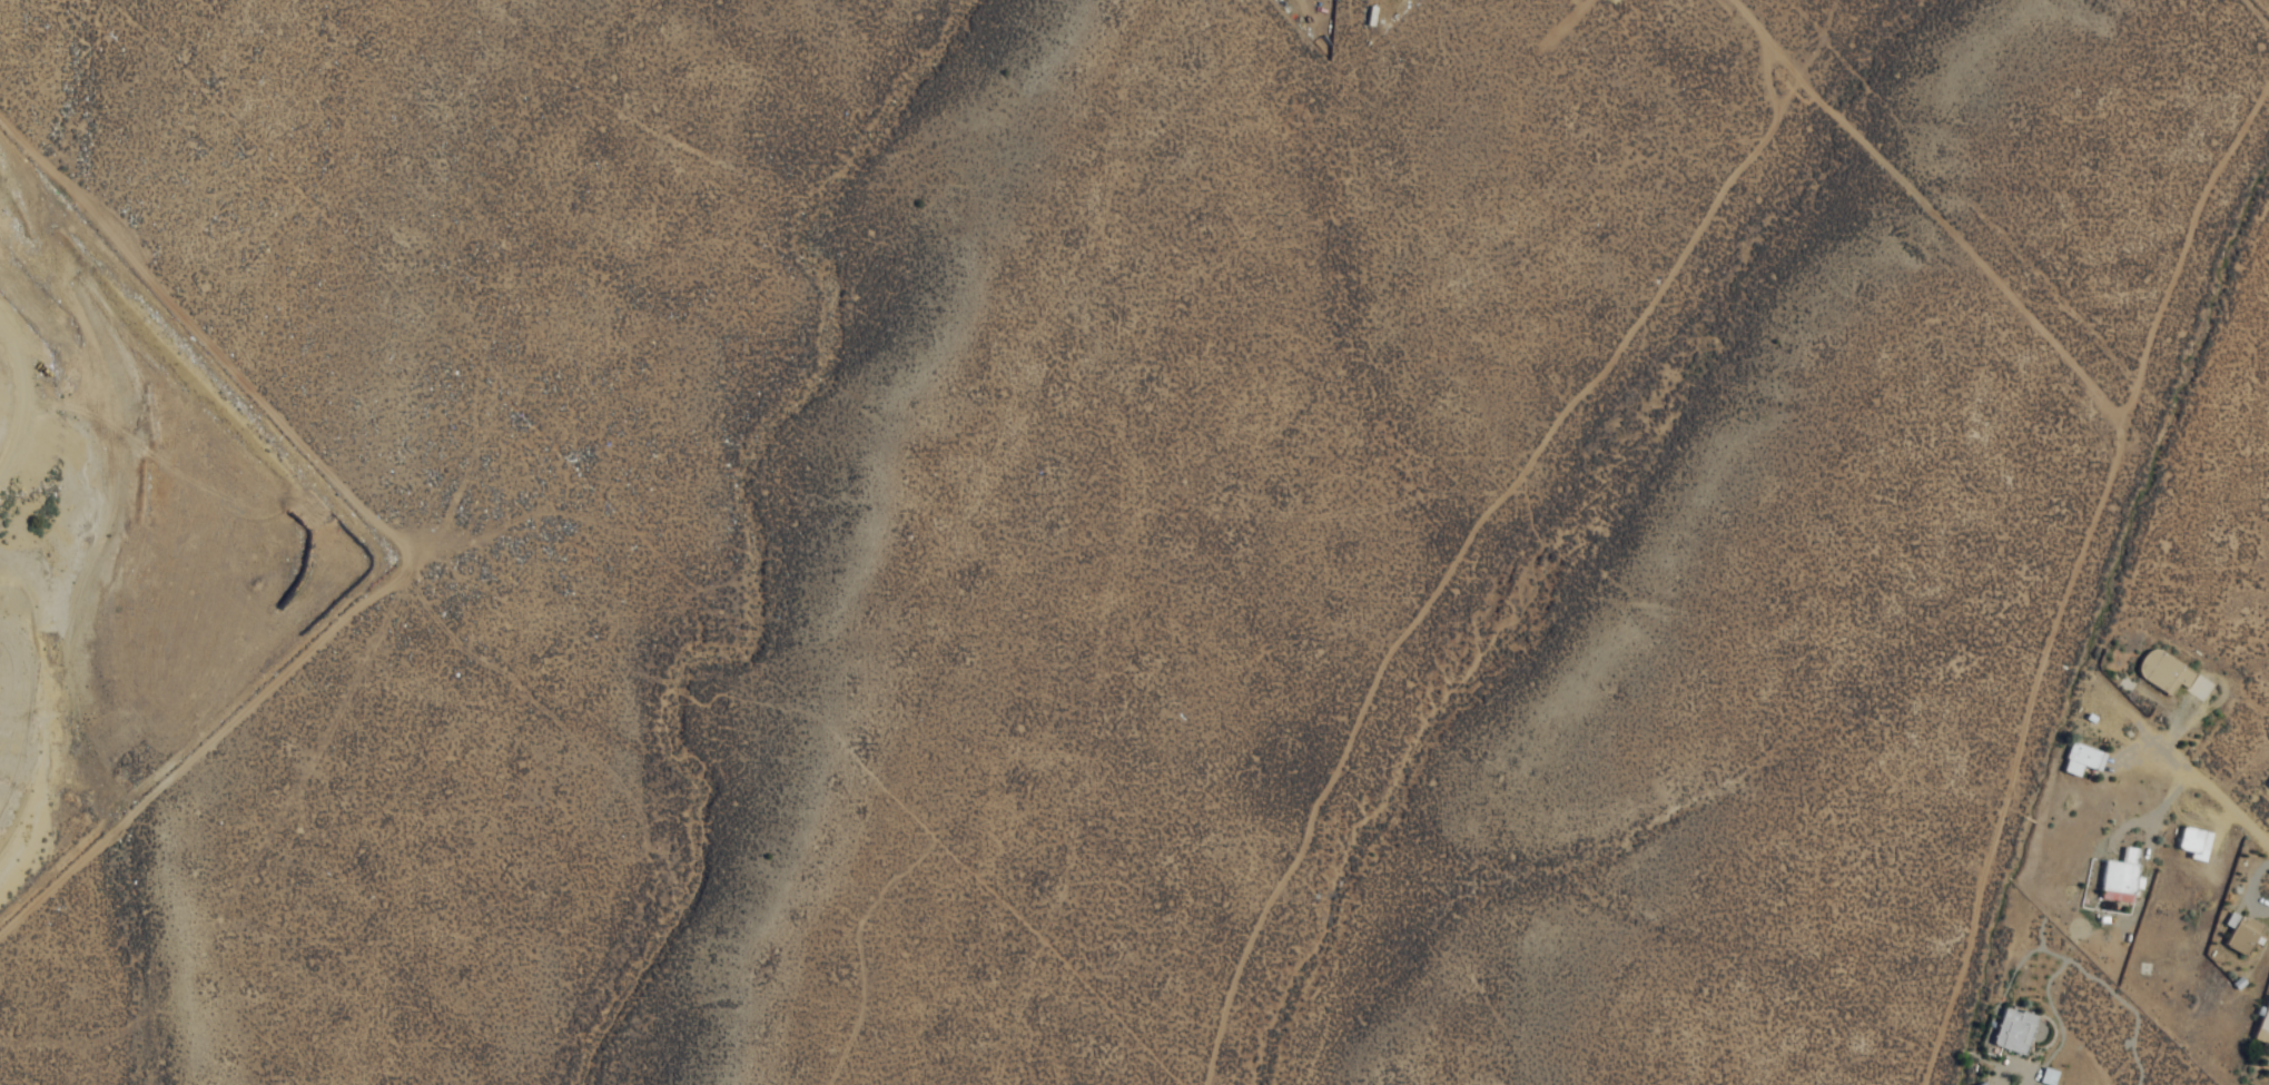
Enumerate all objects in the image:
landfill: (132, 548)
building: (2079, 759)
building: (2267, 785)
road: (2216, 798)
building: (2191, 841)
building: (2118, 877)
building: (2262, 1023)
building: (1979, 1084)

